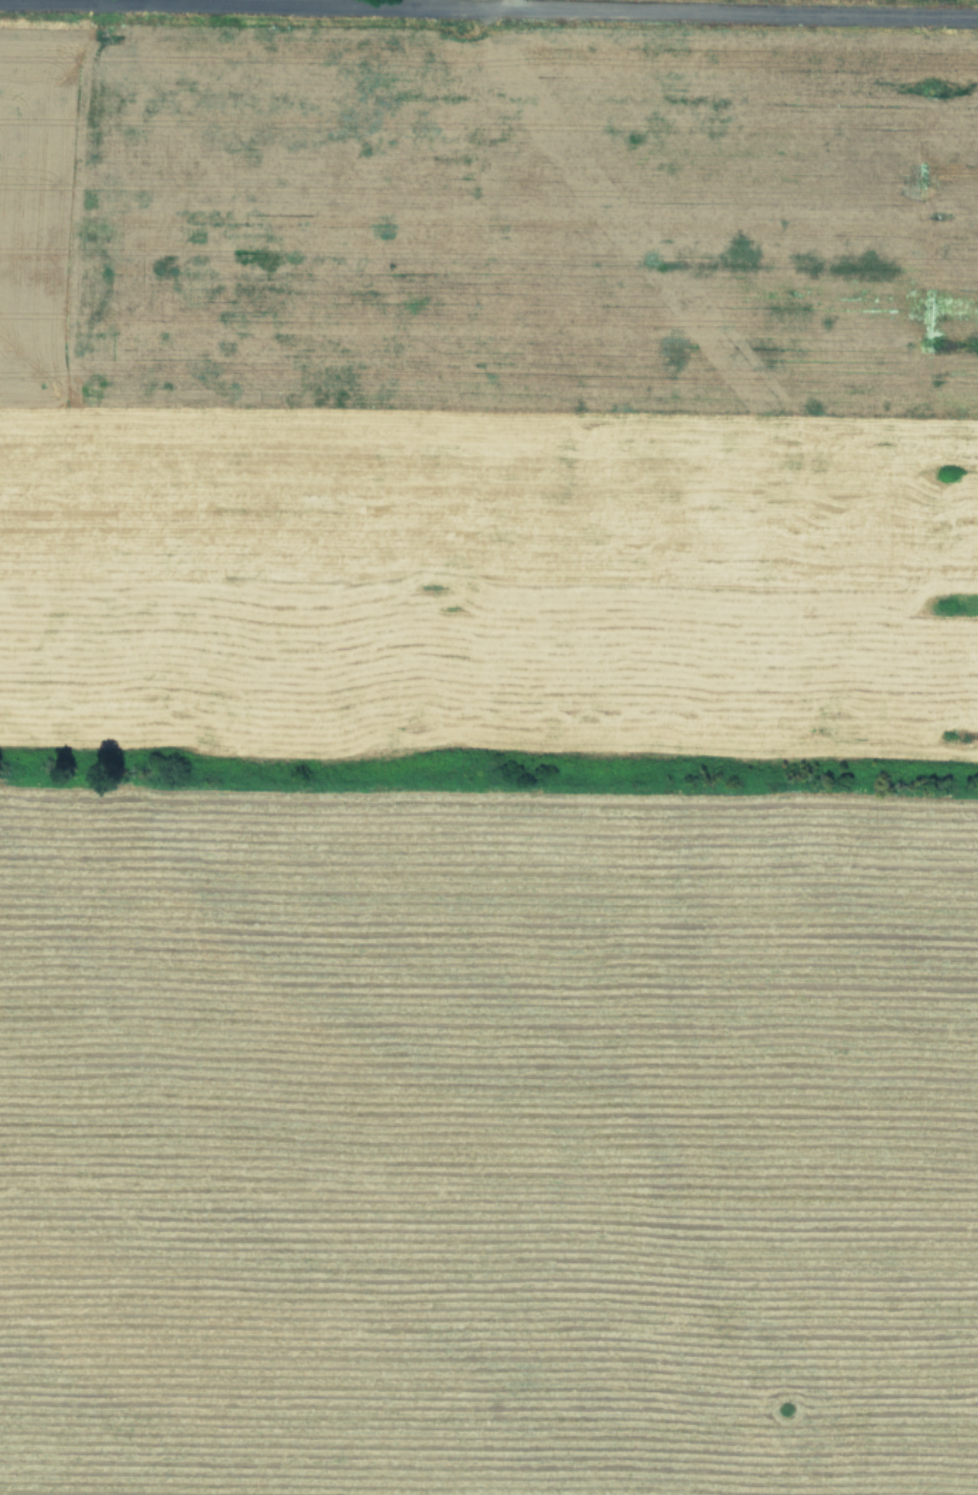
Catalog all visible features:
road: (743, 4)
crop: (489, 747)

